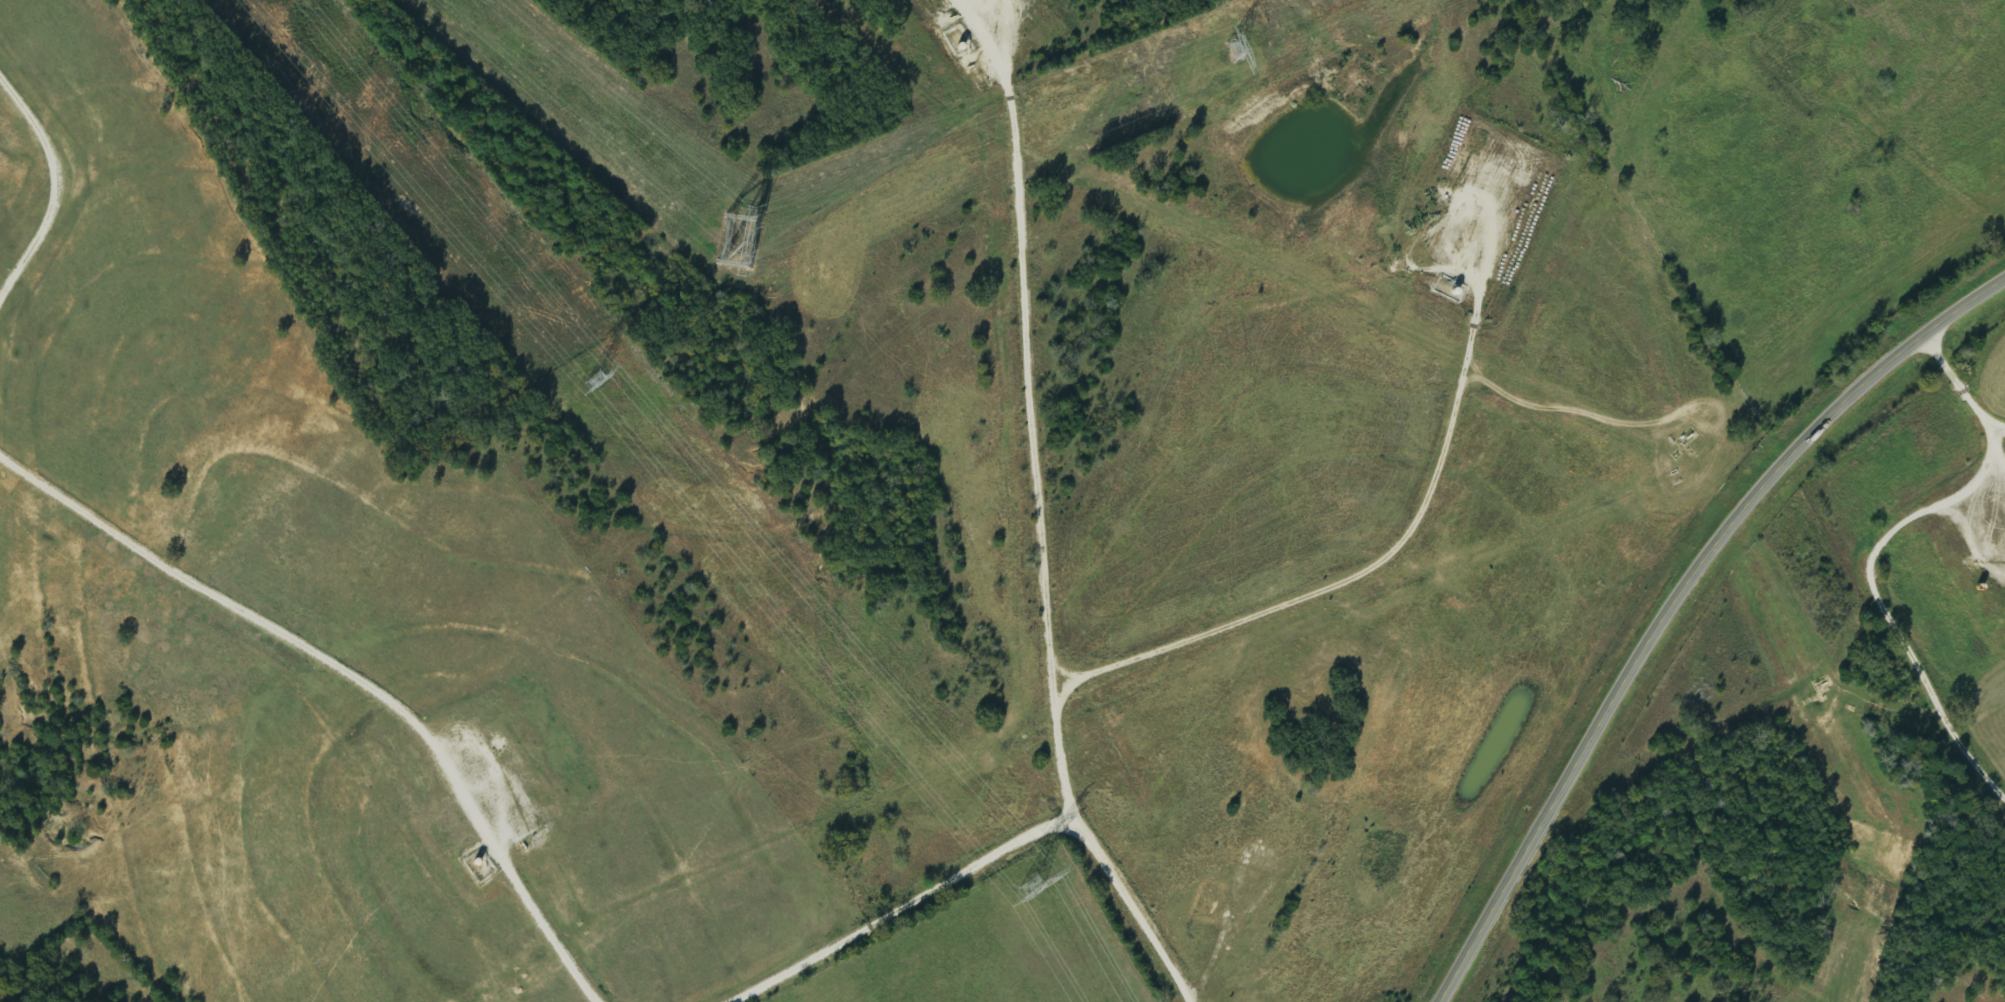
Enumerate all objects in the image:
power tower: (1223, 52)
road: (1648, 234)
power tower: (726, 240)
power tower: (585, 380)
road: (1675, 601)
power tower: (1019, 884)

